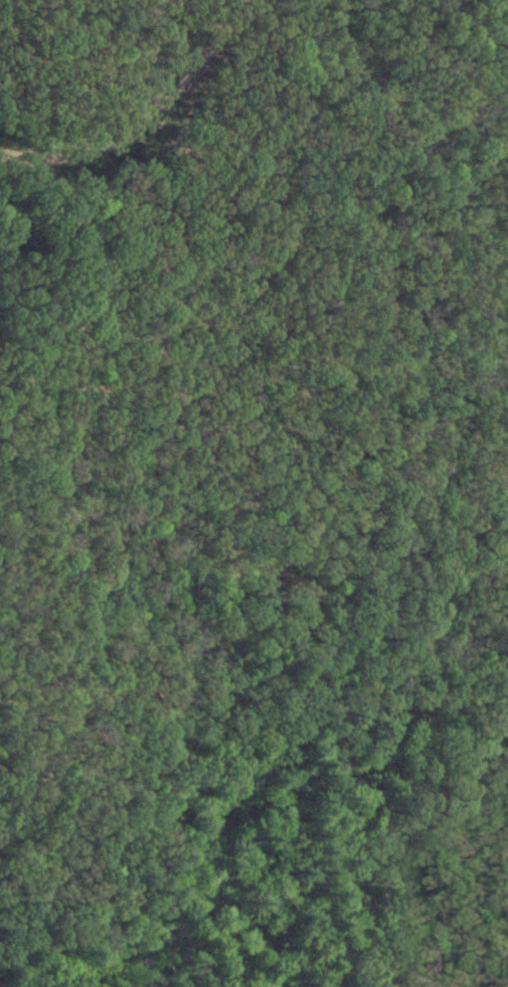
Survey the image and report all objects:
road: (136, 105)
road: (462, 537)

